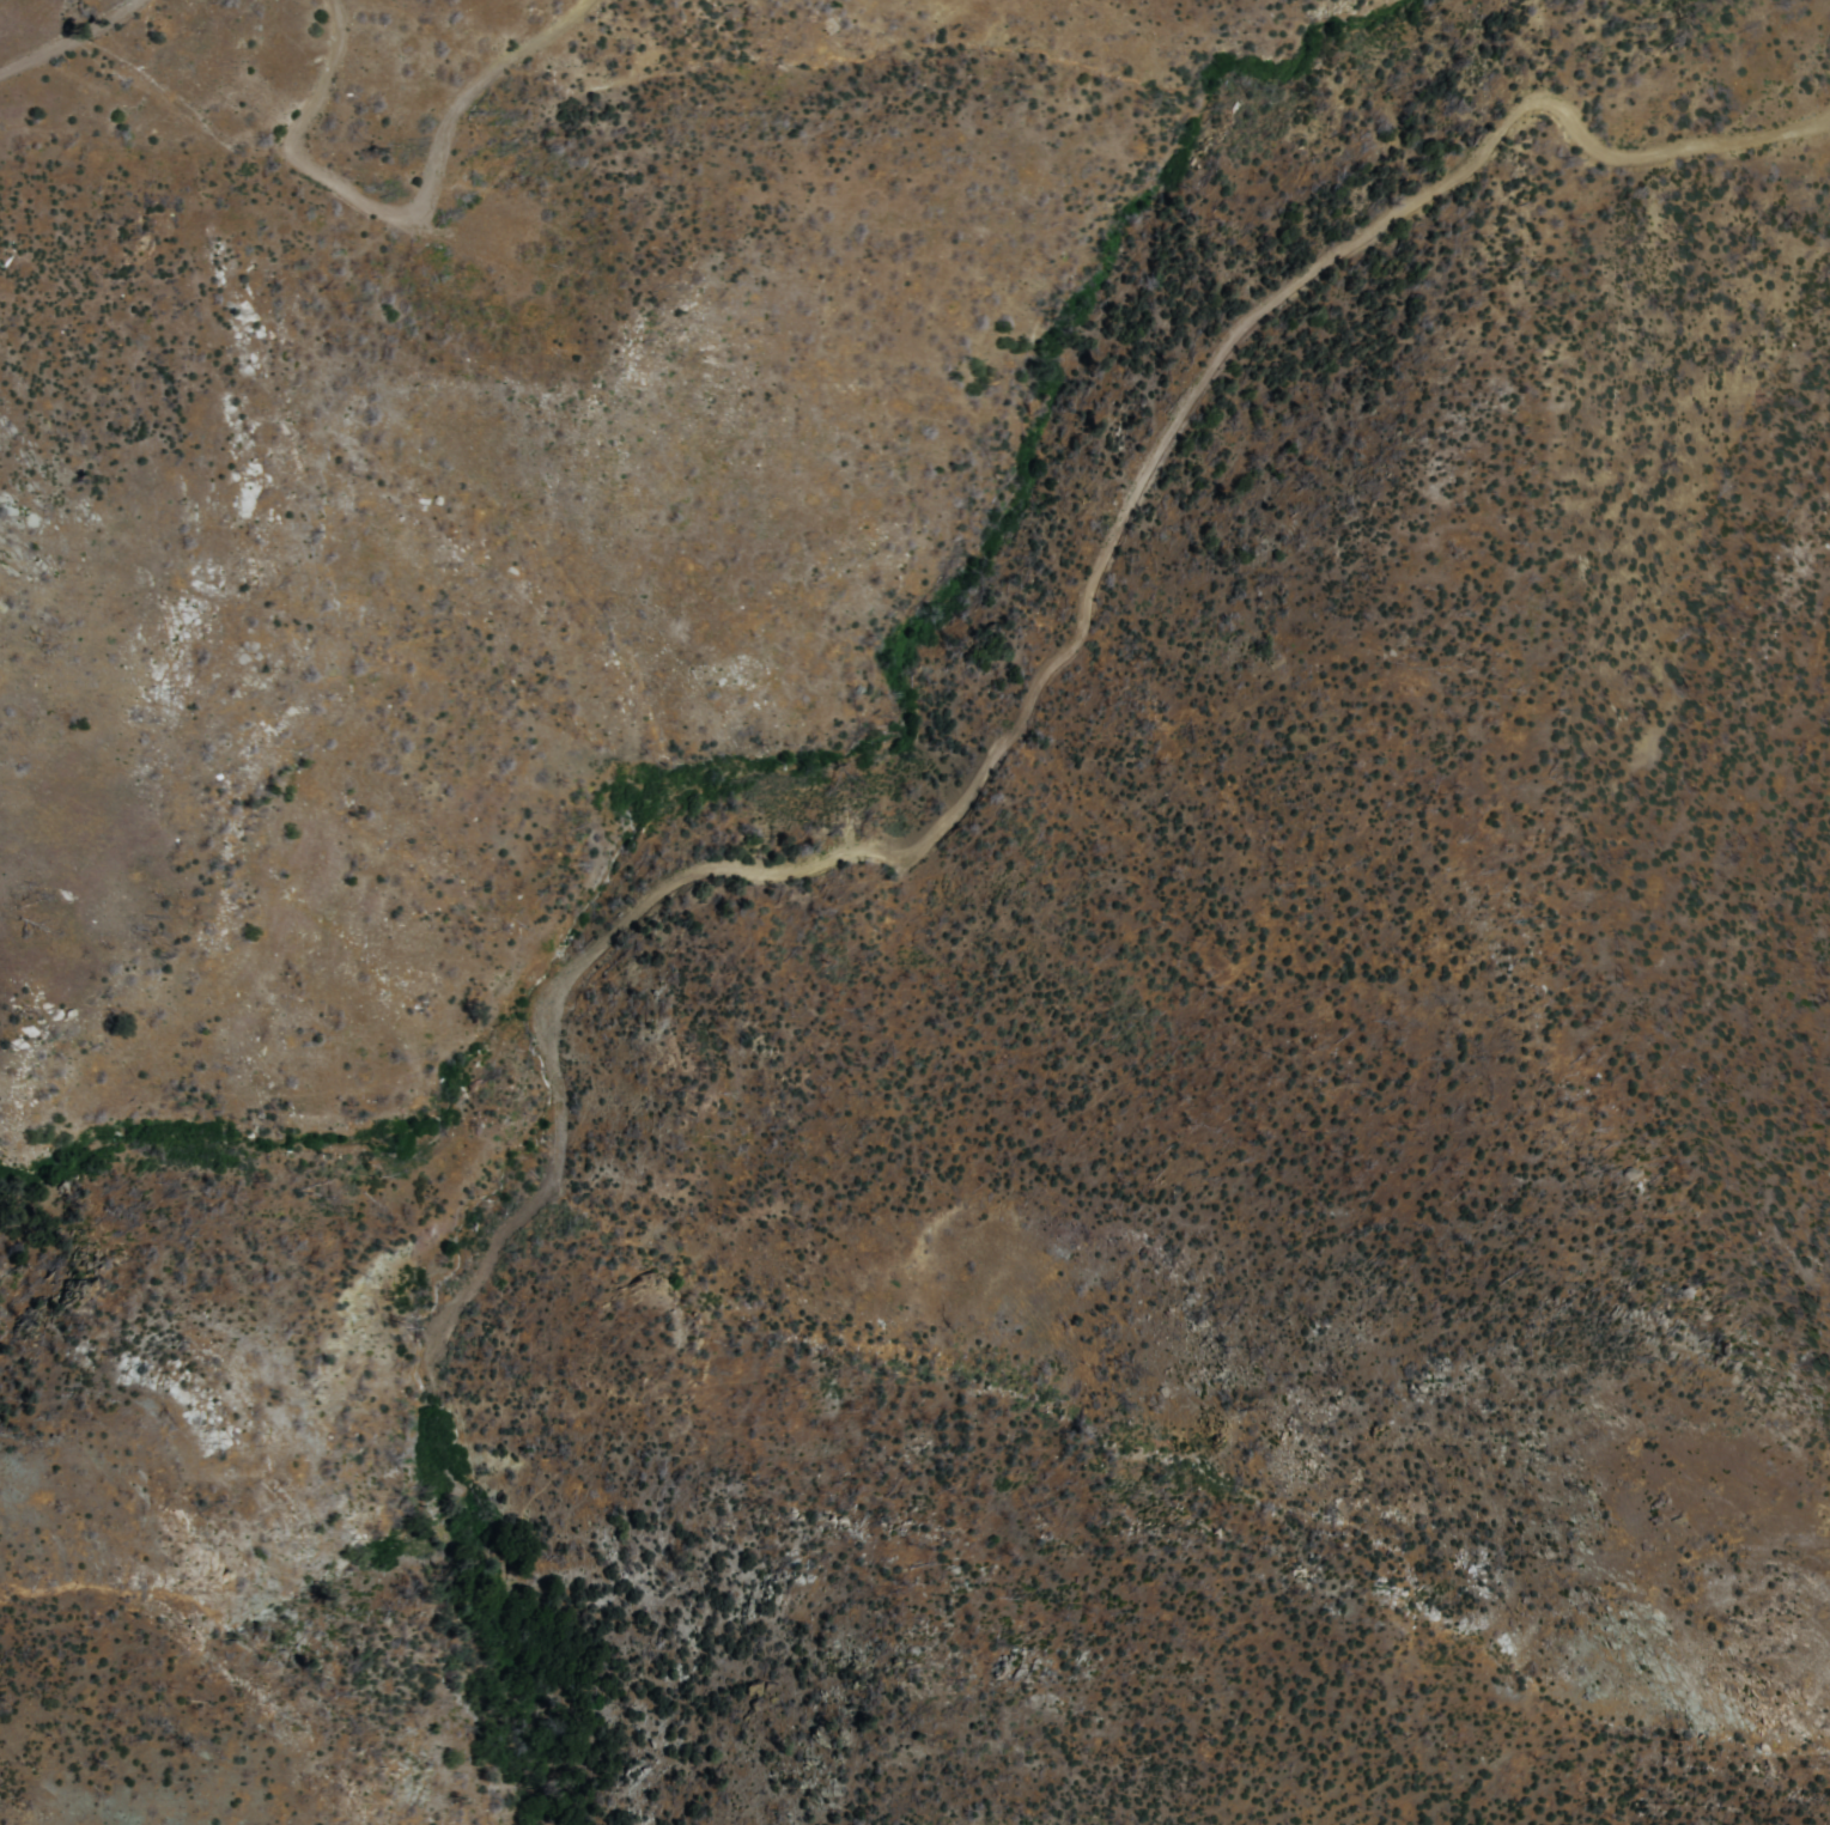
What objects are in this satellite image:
road: (62, 41)
road: (408, 208)
road: (1210, 407)

